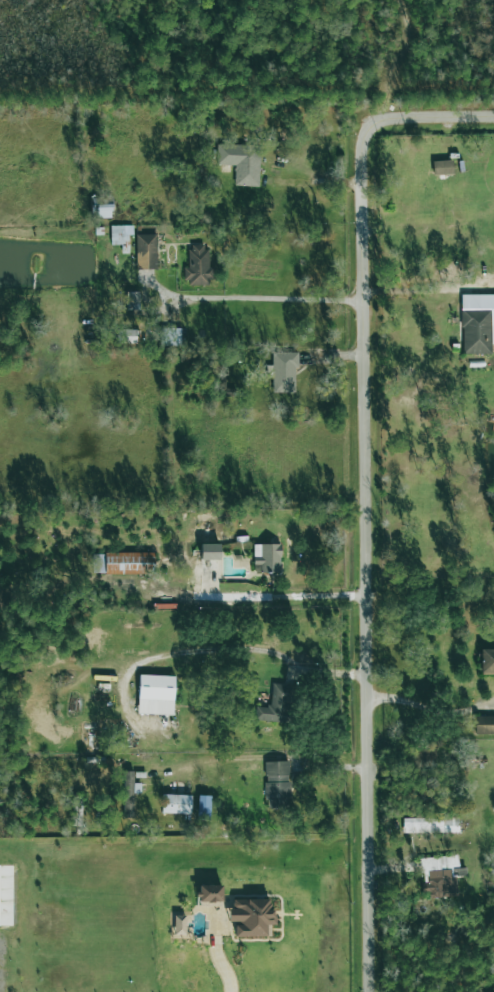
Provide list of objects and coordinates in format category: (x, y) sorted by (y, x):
road: (400, 60)
road: (432, 116)
building: (241, 162)
building: (442, 167)
road: (316, 176)
building: (120, 234)
building: (146, 251)
building: (198, 265)
road: (253, 299)
building: (477, 323)
building: (126, 336)
building: (170, 337)
building: (282, 371)
road: (366, 557)
building: (266, 558)
building: (123, 563)
road: (249, 596)
road: (220, 653)
building: (487, 661)
building: (155, 695)
building: (275, 705)
road: (431, 710)
building: (484, 725)
road: (266, 755)
building: (277, 784)
building: (127, 794)
building: (176, 804)
building: (203, 807)
building: (430, 825)
building: (440, 876)
building: (209, 893)
building: (250, 917)
building: (181, 926)

